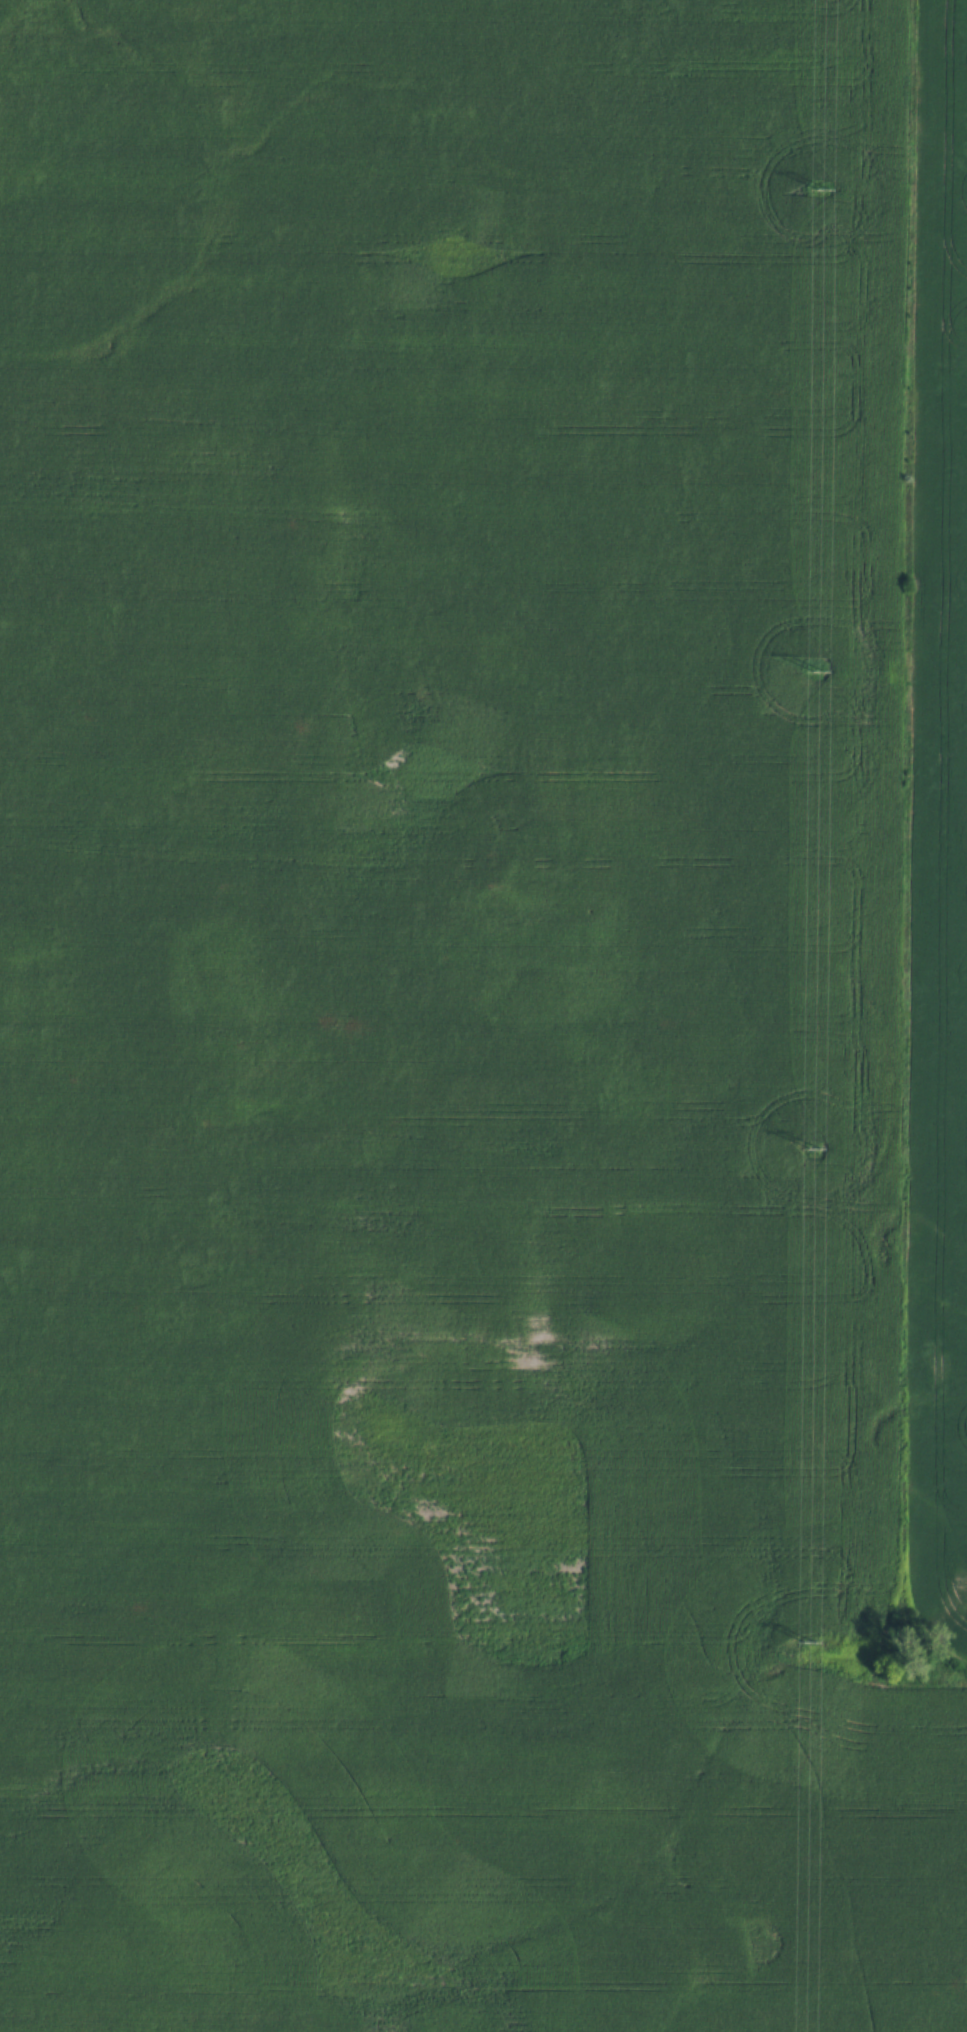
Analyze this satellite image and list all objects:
power tower: (825, 188)
power tower: (822, 670)
power tower: (815, 1148)
power tower: (813, 1642)
river: (413, 1990)

